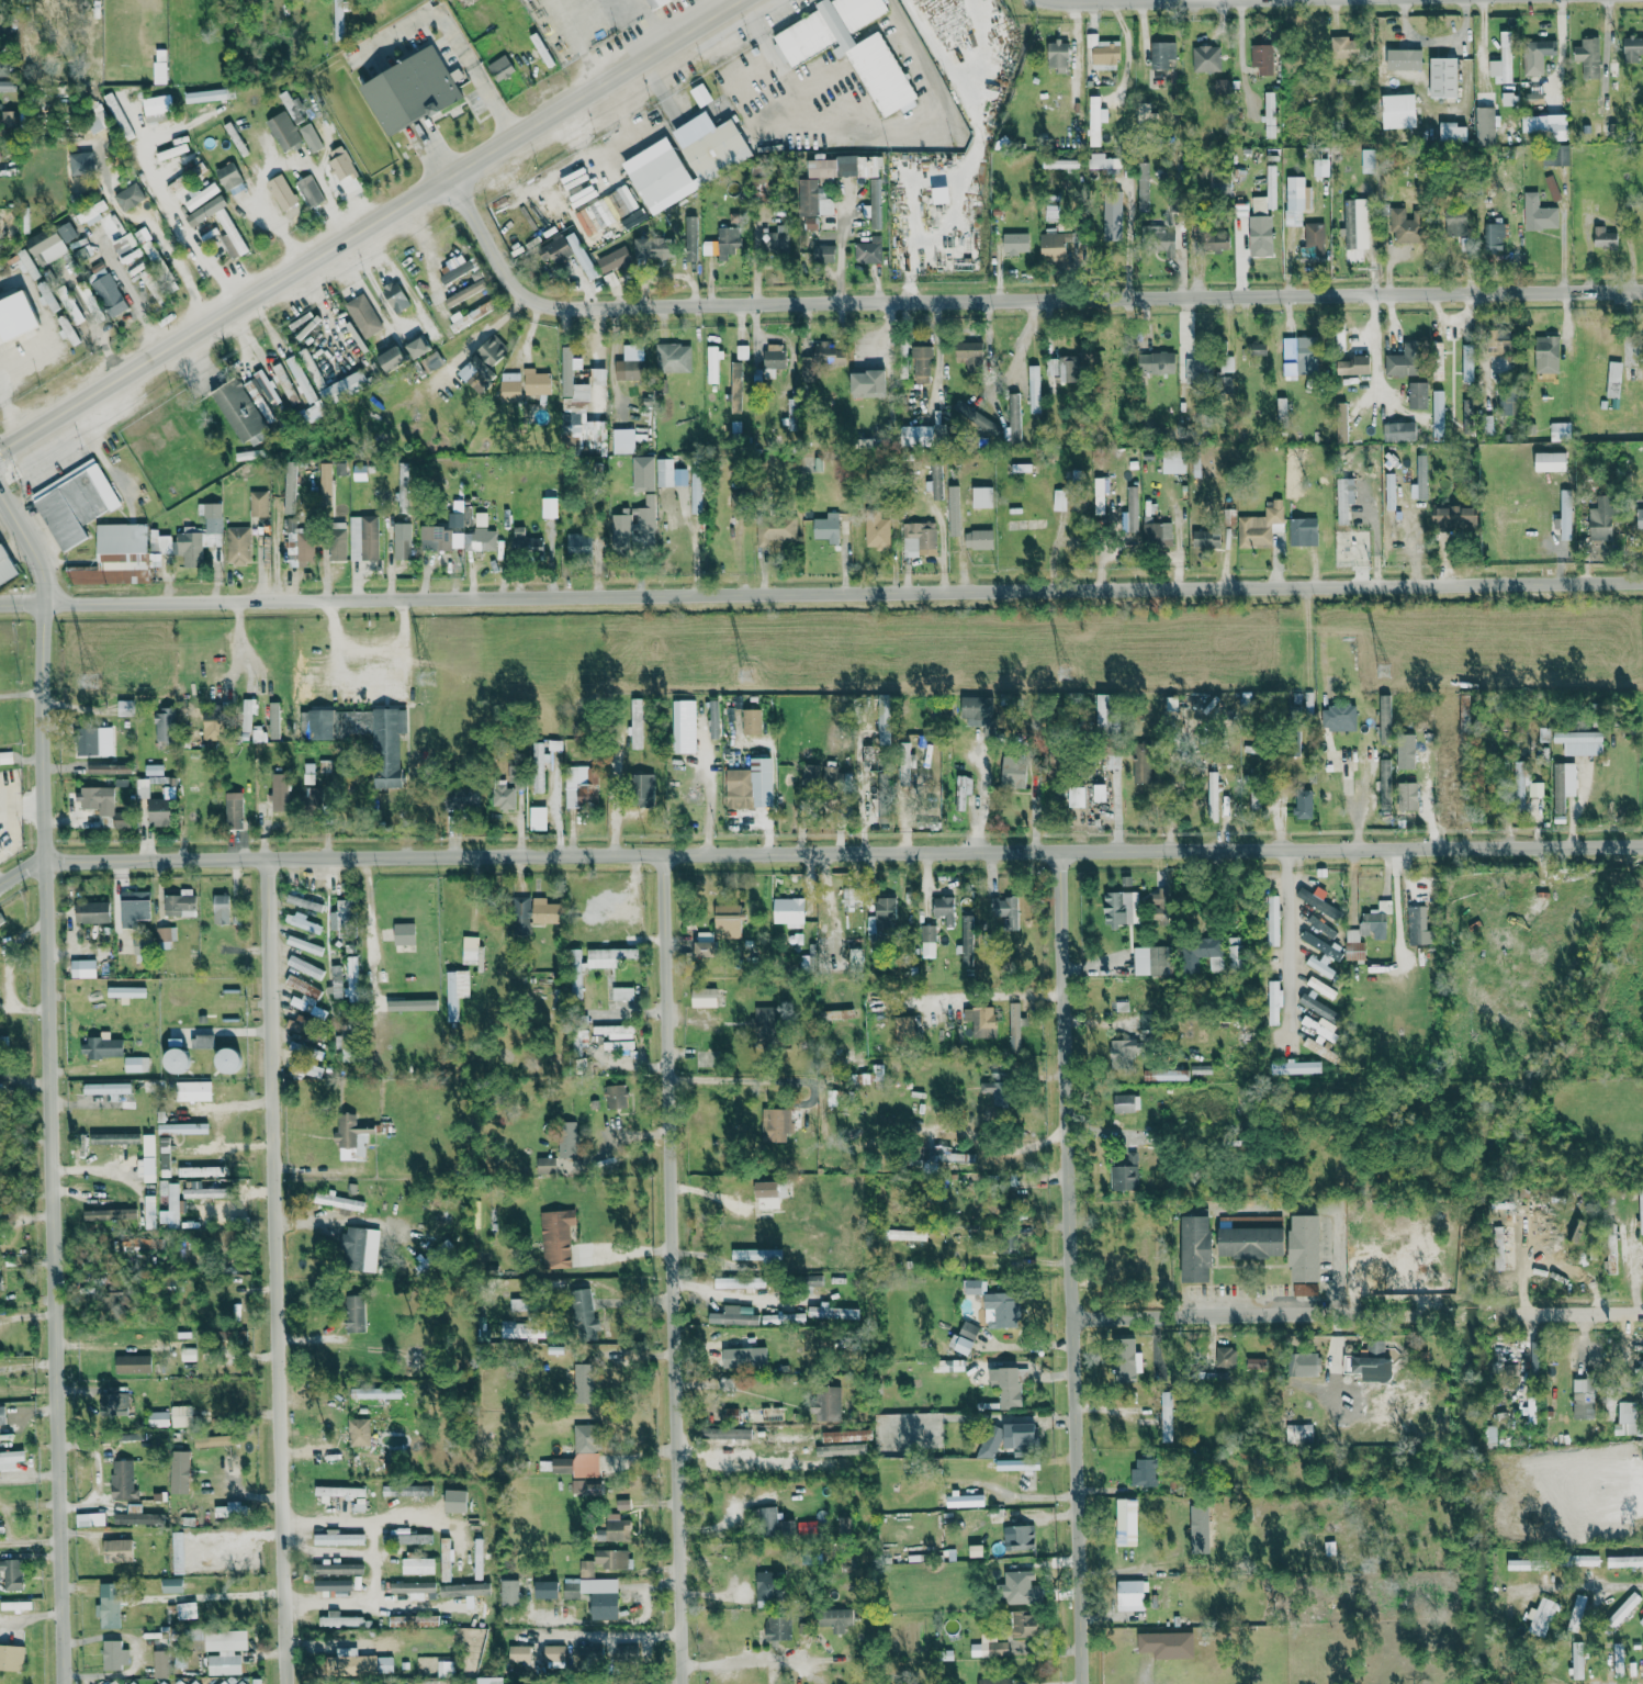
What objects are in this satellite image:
building: (655, 2)
building: (338, 13)
road: (652, 23)
road: (578, 44)
building: (1632, 47)
building: (849, 48)
building: (1161, 53)
building: (1058, 55)
building: (1537, 55)
building: (1588, 56)
building: (1206, 57)
building: (1262, 58)
building: (1409, 58)
building: (1503, 60)
building: (500, 67)
building: (1443, 76)
road: (479, 79)
building: (7, 85)
building: (1222, 85)
building: (409, 89)
building: (207, 94)
building: (700, 94)
building: (1507, 98)
building: (1533, 98)
building: (292, 106)
building: (156, 108)
building: (1398, 110)
building: (1270, 114)
building: (8, 116)
building: (94, 117)
building: (1095, 119)
building: (1534, 123)
building: (1485, 124)
building: (283, 130)
building: (126, 131)
building: (1453, 131)
building: (311, 136)
building: (171, 151)
building: (1555, 155)
building: (1368, 160)
building: (80, 161)
building: (1104, 161)
building: (1060, 162)
road: (312, 165)
building: (843, 166)
building: (1320, 166)
building: (342, 168)
building: (655, 168)
building: (228, 176)
building: (184, 178)
building: (1271, 180)
building: (1220, 182)
building: (1144, 186)
building: (308, 190)
building: (281, 191)
building: (1296, 192)
building: (200, 194)
building: (939, 194)
building: (128, 197)
building: (623, 199)
building: (813, 201)
building: (875, 202)
road: (168, 203)
building: (92, 212)
building: (1539, 213)
building: (1112, 217)
building: (1355, 223)
building: (1450, 224)
building: (222, 225)
building: (1405, 225)
road: (155, 227)
road: (373, 227)
building: (66, 231)
road: (282, 235)
building: (1260, 235)
building: (690, 237)
building: (1494, 237)
building: (1314, 238)
building: (1605, 238)
building: (775, 239)
building: (1158, 239)
building: (1211, 239)
building: (728, 240)
building: (1015, 242)
building: (123, 243)
building: (1053, 244)
building: (148, 247)
building: (654, 247)
building: (709, 247)
road: (1128, 247)
building: (47, 248)
building: (868, 250)
building: (566, 252)
building: (823, 252)
building: (131, 255)
building: (617, 257)
building: (455, 269)
building: (106, 291)
building: (464, 292)
road: (131, 293)
building: (86, 295)
building: (394, 295)
road: (1015, 299)
building: (48, 300)
building: (69, 304)
road: (325, 312)
building: (15, 315)
building: (362, 315)
building: (470, 316)
building: (65, 325)
building: (1499, 341)
building: (416, 347)
building: (1257, 348)
building: (741, 351)
road: (1376, 351)
building: (969, 353)
building: (1546, 353)
building: (1299, 355)
building: (673, 357)
building: (391, 358)
building: (1158, 358)
building: (773, 359)
building: (820, 359)
building: (1467, 359)
building: (431, 361)
building: (482, 362)
building: (1404, 362)
building: (921, 363)
building: (1226, 363)
building: (712, 364)
building: (310, 366)
road: (1035, 366)
building: (1354, 366)
building: (628, 369)
building: (1061, 369)
building: (1196, 370)
building: (1614, 370)
building: (300, 379)
building: (284, 382)
building: (536, 382)
building: (867, 383)
building: (1224, 383)
building: (346, 385)
building: (740, 385)
building: (266, 386)
building: (510, 386)
building: (1034, 389)
building: (1418, 394)
building: (257, 397)
building: (1506, 403)
building: (582, 407)
building: (238, 409)
building: (314, 412)
building: (1438, 415)
building: (1467, 416)
building: (1014, 417)
building: (977, 418)
building: (1342, 422)
building: (1398, 430)
building: (1560, 430)
building: (916, 436)
building: (1173, 461)
building: (1551, 461)
building: (339, 468)
building: (359, 472)
building: (669, 473)
building: (935, 480)
building: (290, 486)
building: (325, 487)
building: (696, 491)
building: (1100, 493)
building: (982, 496)
building: (1344, 498)
building: (1059, 499)
building: (74, 503)
building: (258, 503)
building: (549, 507)
building: (1133, 508)
building: (1640, 513)
building: (1564, 515)
building: (1454, 517)
building: (1600, 519)
building: (634, 525)
building: (1259, 526)
building: (826, 527)
building: (775, 528)
building: (876, 529)
building: (1391, 529)
building: (1303, 530)
building: (1156, 534)
building: (199, 535)
building: (480, 535)
building: (363, 537)
building: (435, 538)
building: (919, 538)
building: (1206, 538)
road: (31, 539)
building: (978, 539)
building: (337, 540)
building: (158, 542)
building: (299, 543)
building: (578, 543)
building: (237, 545)
building: (401, 545)
building: (116, 555)
building: (4, 566)
road: (821, 587)
road: (244, 642)
road: (368, 648)
power tower: (1383, 670)
power tower: (1066, 674)
power tower: (429, 676)
power tower: (746, 676)
power tower: (87, 680)
road: (369, 687)
building: (125, 707)
building: (977, 709)
building: (1107, 712)
building: (247, 714)
building: (1339, 717)
building: (713, 719)
building: (273, 720)
building: (1385, 720)
building: (316, 721)
building: (751, 721)
building: (635, 722)
building: (212, 725)
building: (164, 726)
building: (684, 726)
building: (884, 727)
building: (257, 736)
building: (379, 739)
building: (94, 741)
building: (1579, 742)
building: (1408, 751)
building: (5, 756)
building: (904, 763)
building: (1113, 763)
building: (1144, 765)
building: (538, 766)
building: (109, 768)
building: (153, 770)
building: (1013, 772)
building: (809, 774)
building: (830, 776)
building: (936, 778)
building: (1519, 781)
building: (882, 783)
building: (1385, 783)
building: (1563, 784)
building: (751, 785)
building: (581, 786)
road: (708, 786)
building: (154, 787)
building: (963, 788)
building: (1535, 788)
building: (642, 789)
building: (278, 792)
building: (1099, 793)
building: (503, 796)
building: (1076, 796)
building: (1407, 796)
building: (461, 797)
road: (979, 802)
building: (102, 804)
building: (1303, 804)
building: (233, 809)
building: (159, 811)
road: (845, 851)
road: (24, 874)
building: (848, 899)
building: (178, 902)
building: (303, 902)
building: (1318, 902)
building: (134, 907)
road: (1397, 907)
building: (221, 908)
building: (1121, 908)
building: (608, 909)
building: (944, 909)
building: (91, 911)
building: (545, 911)
building: (788, 911)
building: (1006, 911)
building: (520, 916)
building: (885, 916)
building: (341, 918)
building: (1, 920)
building: (1273, 920)
building: (1375, 920)
building: (727, 921)
building: (302, 922)
building: (1419, 927)
building: (1323, 928)
building: (165, 933)
building: (403, 933)
building: (927, 941)
road: (1290, 941)
building: (304, 944)
building: (1353, 945)
building: (966, 947)
building: (470, 950)
building: (704, 950)
building: (1234, 951)
building: (1201, 954)
building: (608, 956)
building: (1149, 959)
building: (304, 967)
building: (1320, 967)
building: (82, 968)
building: (575, 972)
building: (350, 975)
building: (336, 980)
building: (1321, 987)
building: (125, 991)
building: (455, 991)
building: (622, 993)
road: (990, 995)
building: (303, 996)
building: (704, 997)
building: (1274, 1001)
building: (1317, 1006)
building: (836, 1014)
building: (981, 1021)
building: (766, 1025)
building: (296, 1026)
building: (1014, 1026)
building: (1318, 1026)
building: (904, 1029)
building: (617, 1031)
building: (201, 1041)
building: (578, 1041)
building: (101, 1046)
building: (345, 1046)
building: (310, 1053)
building: (177, 1060)
building: (227, 1060)
building: (135, 1064)
building: (1296, 1067)
building: (304, 1069)
building: (1167, 1075)
road: (744, 1078)
building: (998, 1086)
building: (106, 1089)
building: (192, 1090)
building: (615, 1097)
building: (1126, 1102)
building: (773, 1124)
building: (181, 1129)
building: (350, 1136)
building: (114, 1137)
road: (54, 1141)
building: (566, 1146)
building: (164, 1156)
building: (148, 1158)
building: (545, 1165)
building: (200, 1171)
building: (1125, 1175)
building: (202, 1190)
building: (767, 1194)
building: (338, 1202)
building: (170, 1206)
building: (149, 1212)
building: (1641, 1213)
building: (110, 1215)
building: (907, 1234)
building: (1251, 1236)
building: (556, 1238)
building: (360, 1248)
building: (1305, 1248)
building: (1196, 1249)
building: (1501, 1250)
road: (702, 1253)
building: (756, 1254)
park: (1125, 1255)
road: (1074, 1266)
road: (668, 1268)
road: (280, 1270)
building: (740, 1282)
building: (976, 1287)
road: (738, 1298)
building: (1002, 1311)
building: (832, 1312)
building: (355, 1313)
road: (1573, 1313)
building: (583, 1314)
building: (734, 1315)
road: (1248, 1315)
building: (784, 1317)
building: (522, 1331)
building: (188, 1354)
building: (1225, 1357)
building: (744, 1358)
building: (1127, 1361)
building: (1373, 1362)
building: (133, 1363)
building: (1256, 1363)
building: (1303, 1365)
building: (583, 1383)
building: (194, 1385)
building: (1010, 1388)
building: (375, 1393)
building: (1584, 1399)
building: (112, 1402)
building: (829, 1404)
building: (753, 1412)
building: (180, 1415)
building: (1, 1416)
building: (1166, 1416)
building: (159, 1418)
building: (1625, 1418)
building: (358, 1432)
building: (1299, 1432)
building: (859, 1435)
building: (1020, 1436)
building: (1490, 1436)
building: (730, 1437)
building: (214, 1440)
building: (989, 1441)
building: (785, 1447)
building: (858, 1448)
building: (821, 1450)
building: (582, 1453)
building: (10, 1460)
building: (1587, 1471)
building: (1144, 1473)
building: (122, 1480)
building: (576, 1485)
building: (420, 1490)
building: (390, 1491)
building: (344, 1494)
building: (965, 1501)
building: (455, 1502)
building: (622, 1504)
building: (134, 1508)
building: (222, 1512)
road: (424, 1516)
building: (134, 1518)
building: (89, 1519)
building: (1126, 1522)
building: (774, 1524)
building: (1, 1525)
building: (1203, 1526)
building: (611, 1530)
building: (1019, 1537)
building: (337, 1538)
building: (410, 1538)
building: (117, 1550)
building: (976, 1550)
building: (610, 1558)
building: (223, 1559)
building: (446, 1560)
building: (1587, 1560)
building: (1624, 1561)
road: (374, 1564)
building: (1520, 1564)
building: (418, 1567)
building: (338, 1569)
building: (586, 1569)
building: (10, 1574)
building: (767, 1584)
building: (171, 1585)
building: (334, 1587)
building: (412, 1587)
building: (1020, 1588)
building: (545, 1590)
building: (509, 1593)
road: (1518, 1593)
building: (595, 1595)
building: (1130, 1595)
building: (109, 1606)
building: (1624, 1608)
building: (185, 1610)
building: (1576, 1613)
building: (1541, 1617)
building: (831, 1618)
building: (339, 1619)
building: (414, 1620)
building: (1641, 1623)
building: (1024, 1624)
building: (777, 1628)
road: (605, 1636)
building: (225, 1641)
building: (1167, 1644)
building: (989, 1647)
building: (627, 1652)
building: (519, 1653)
building: (553, 1653)
building: (113, 1655)
building: (225, 1657)
building: (11, 1658)
road: (744, 1659)
building: (1577, 1660)
building: (1619, 1660)
building: (178, 1662)
building: (358, 1663)
building: (420, 1663)
building: (159, 1664)
building: (444, 1669)
building: (495, 1681)
building: (994, 1681)
building: (113, 1682)
building: (194, 1682)
building: (223, 1682)
building: (239, 1682)
building: (132, 1683)
building: (162, 1683)

